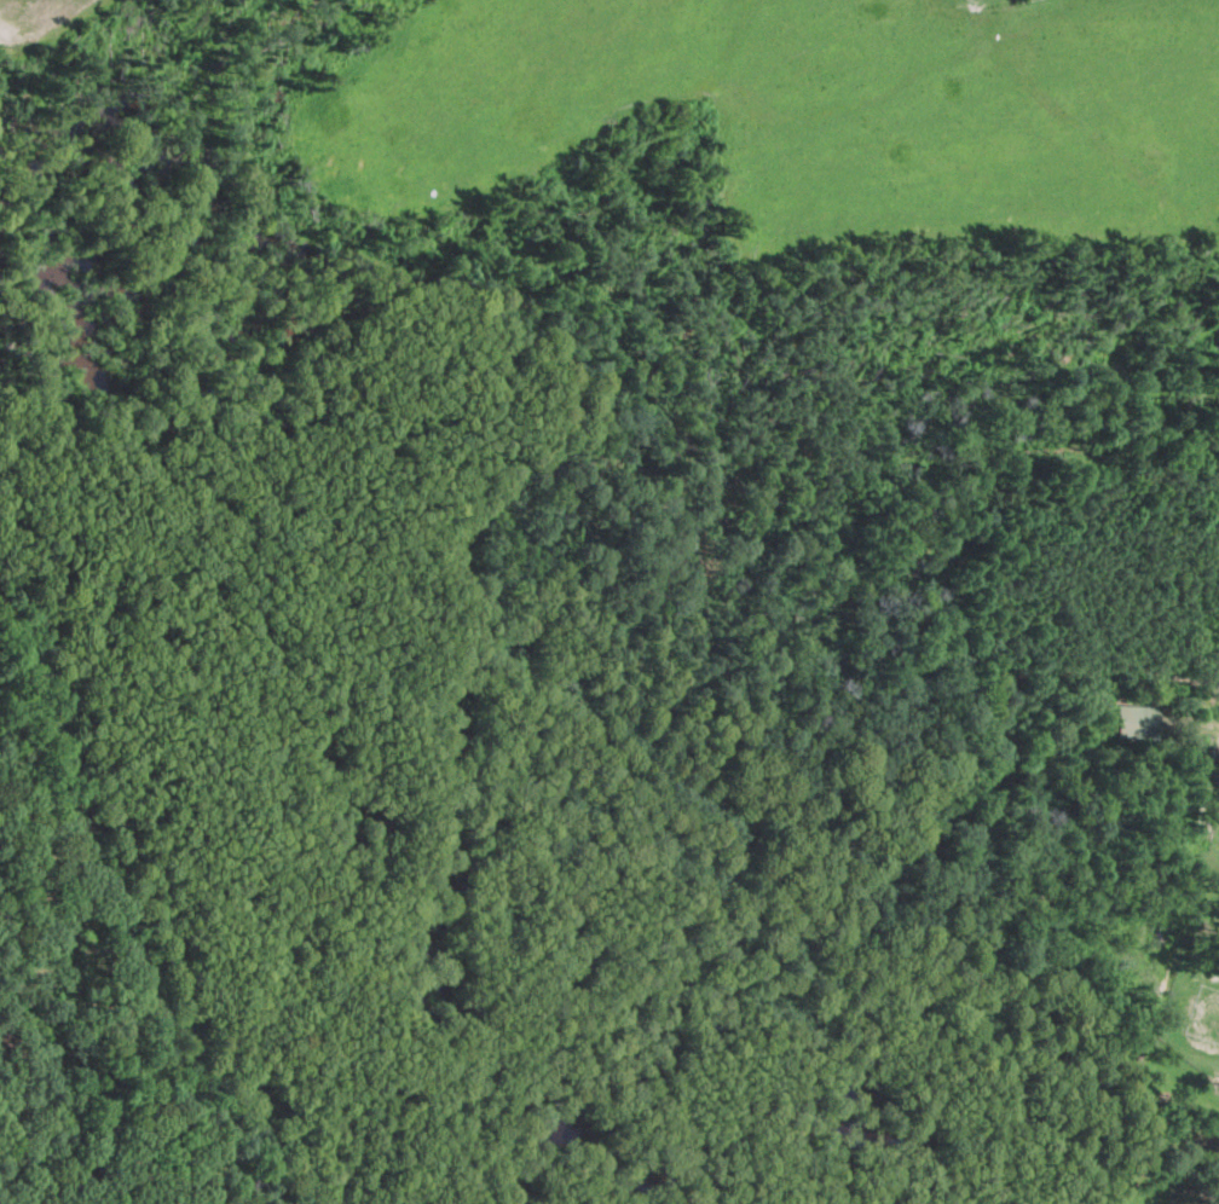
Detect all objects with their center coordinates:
building: (1134, 720)

